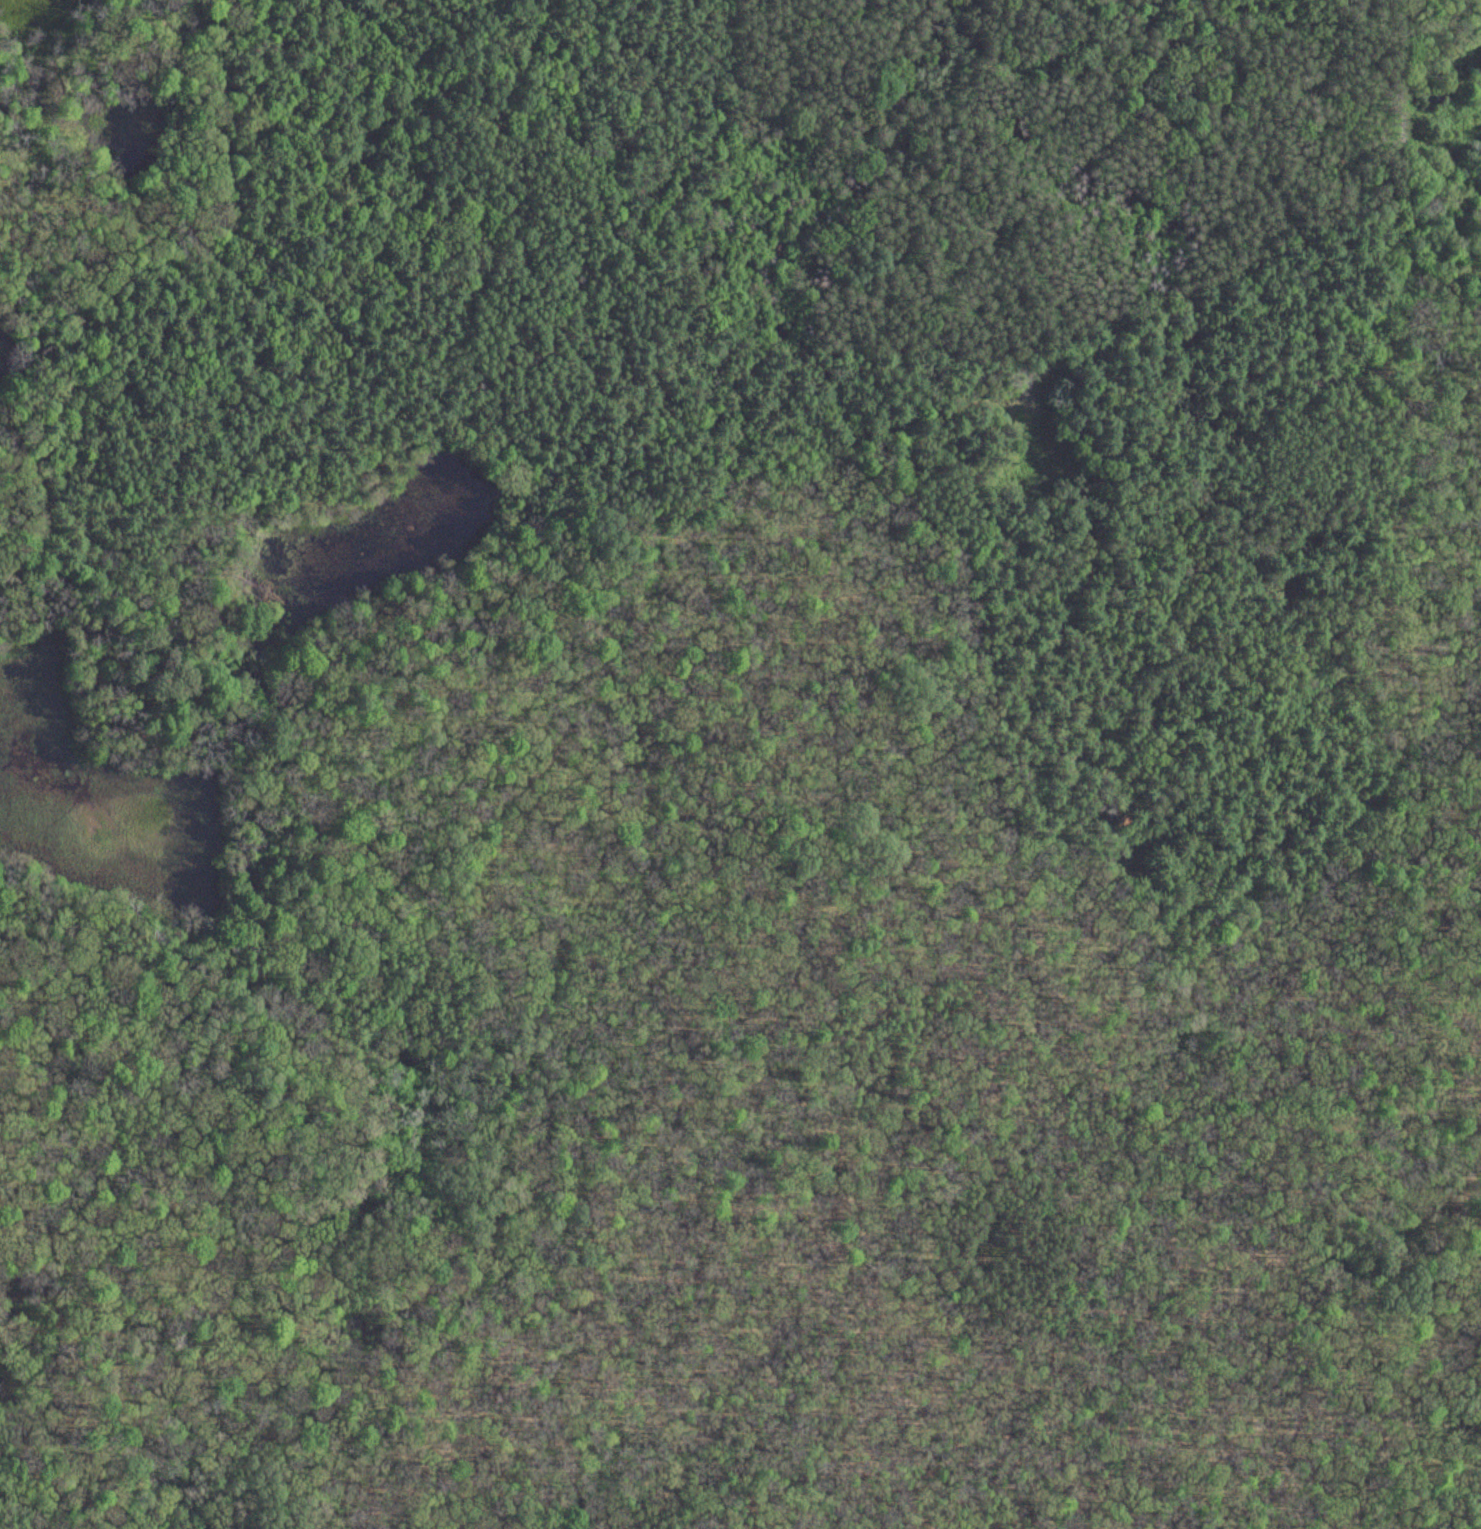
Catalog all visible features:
road: (649, 560)

